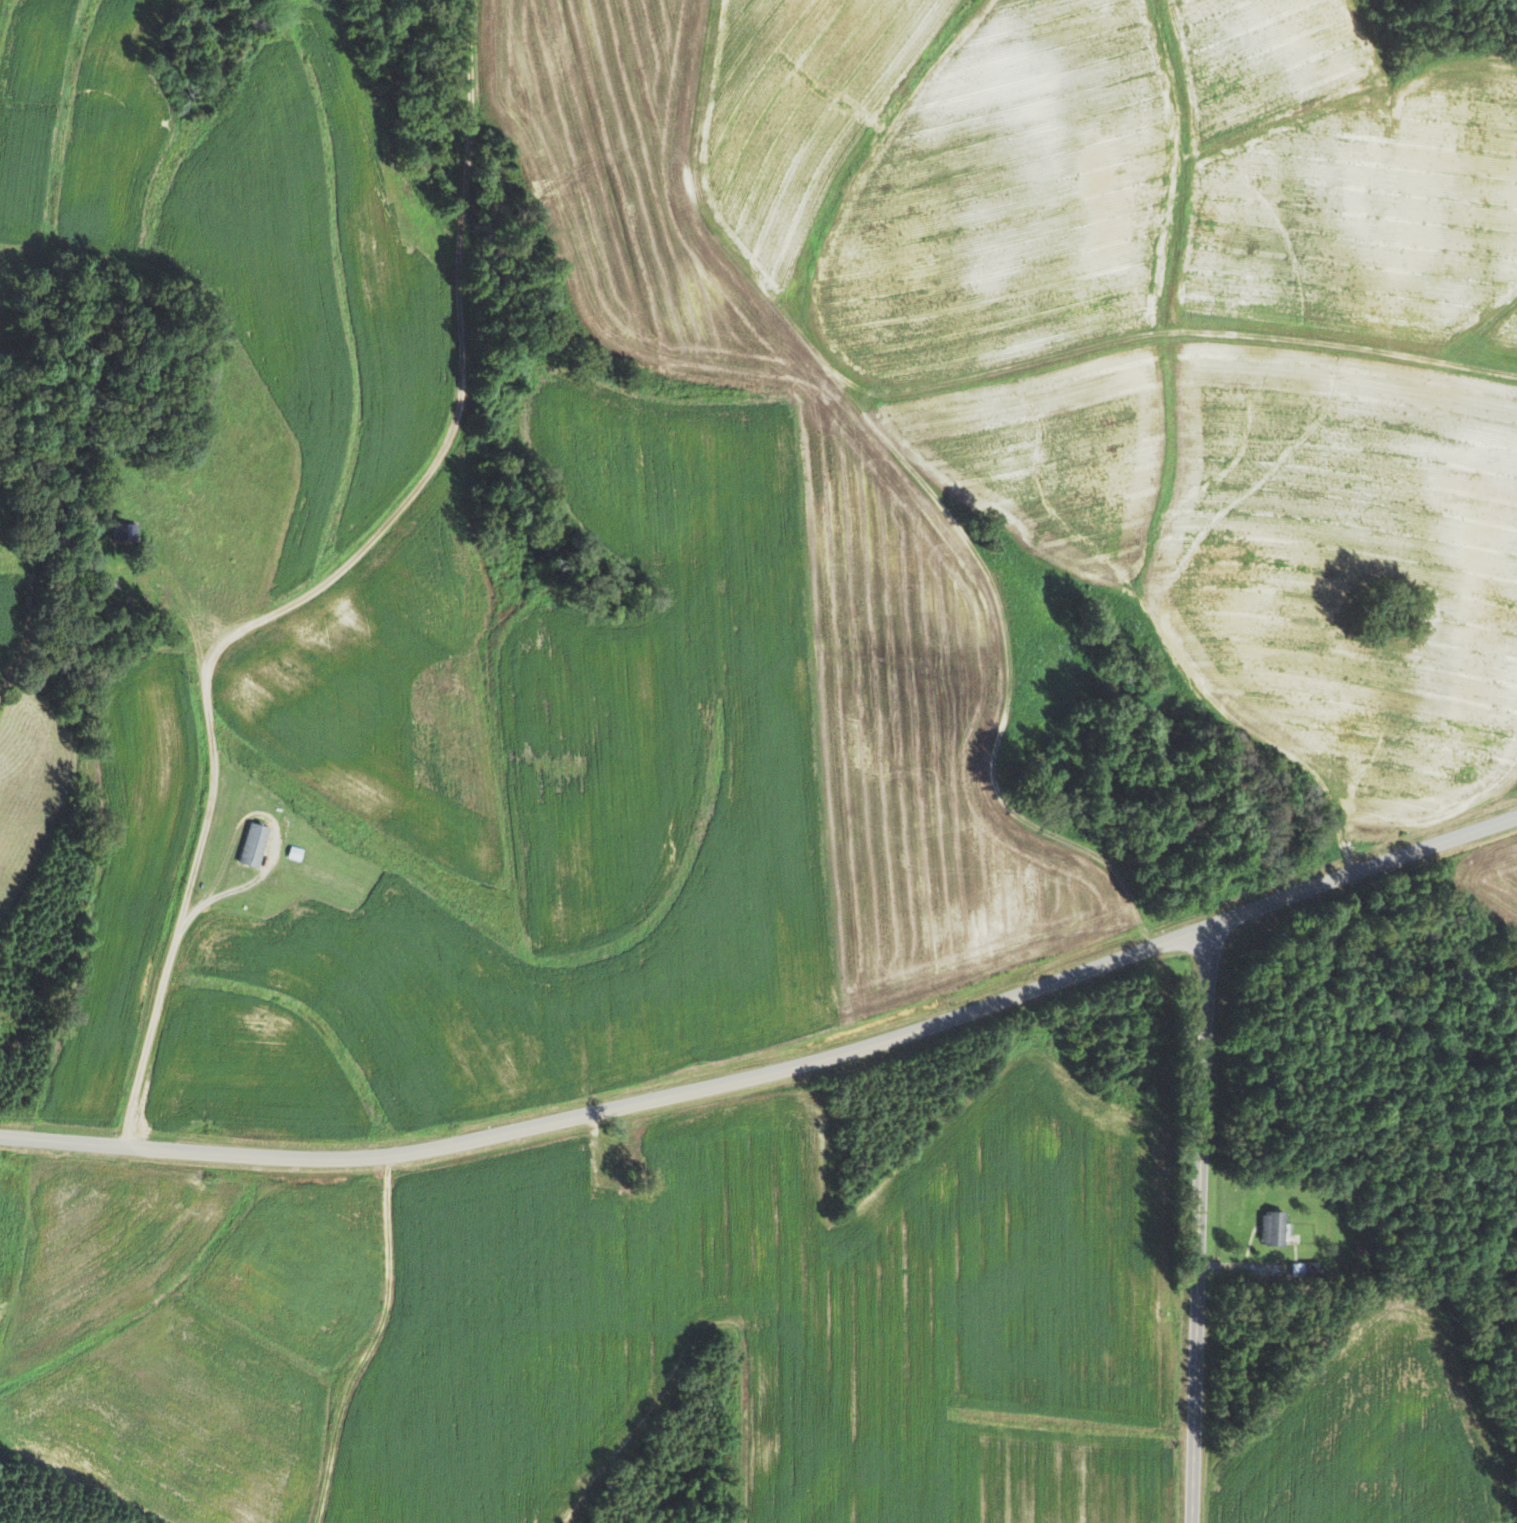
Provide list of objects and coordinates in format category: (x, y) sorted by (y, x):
road: (325, 588)
building: (255, 845)
road: (774, 1072)
road: (1201, 1226)
building: (1277, 1229)

